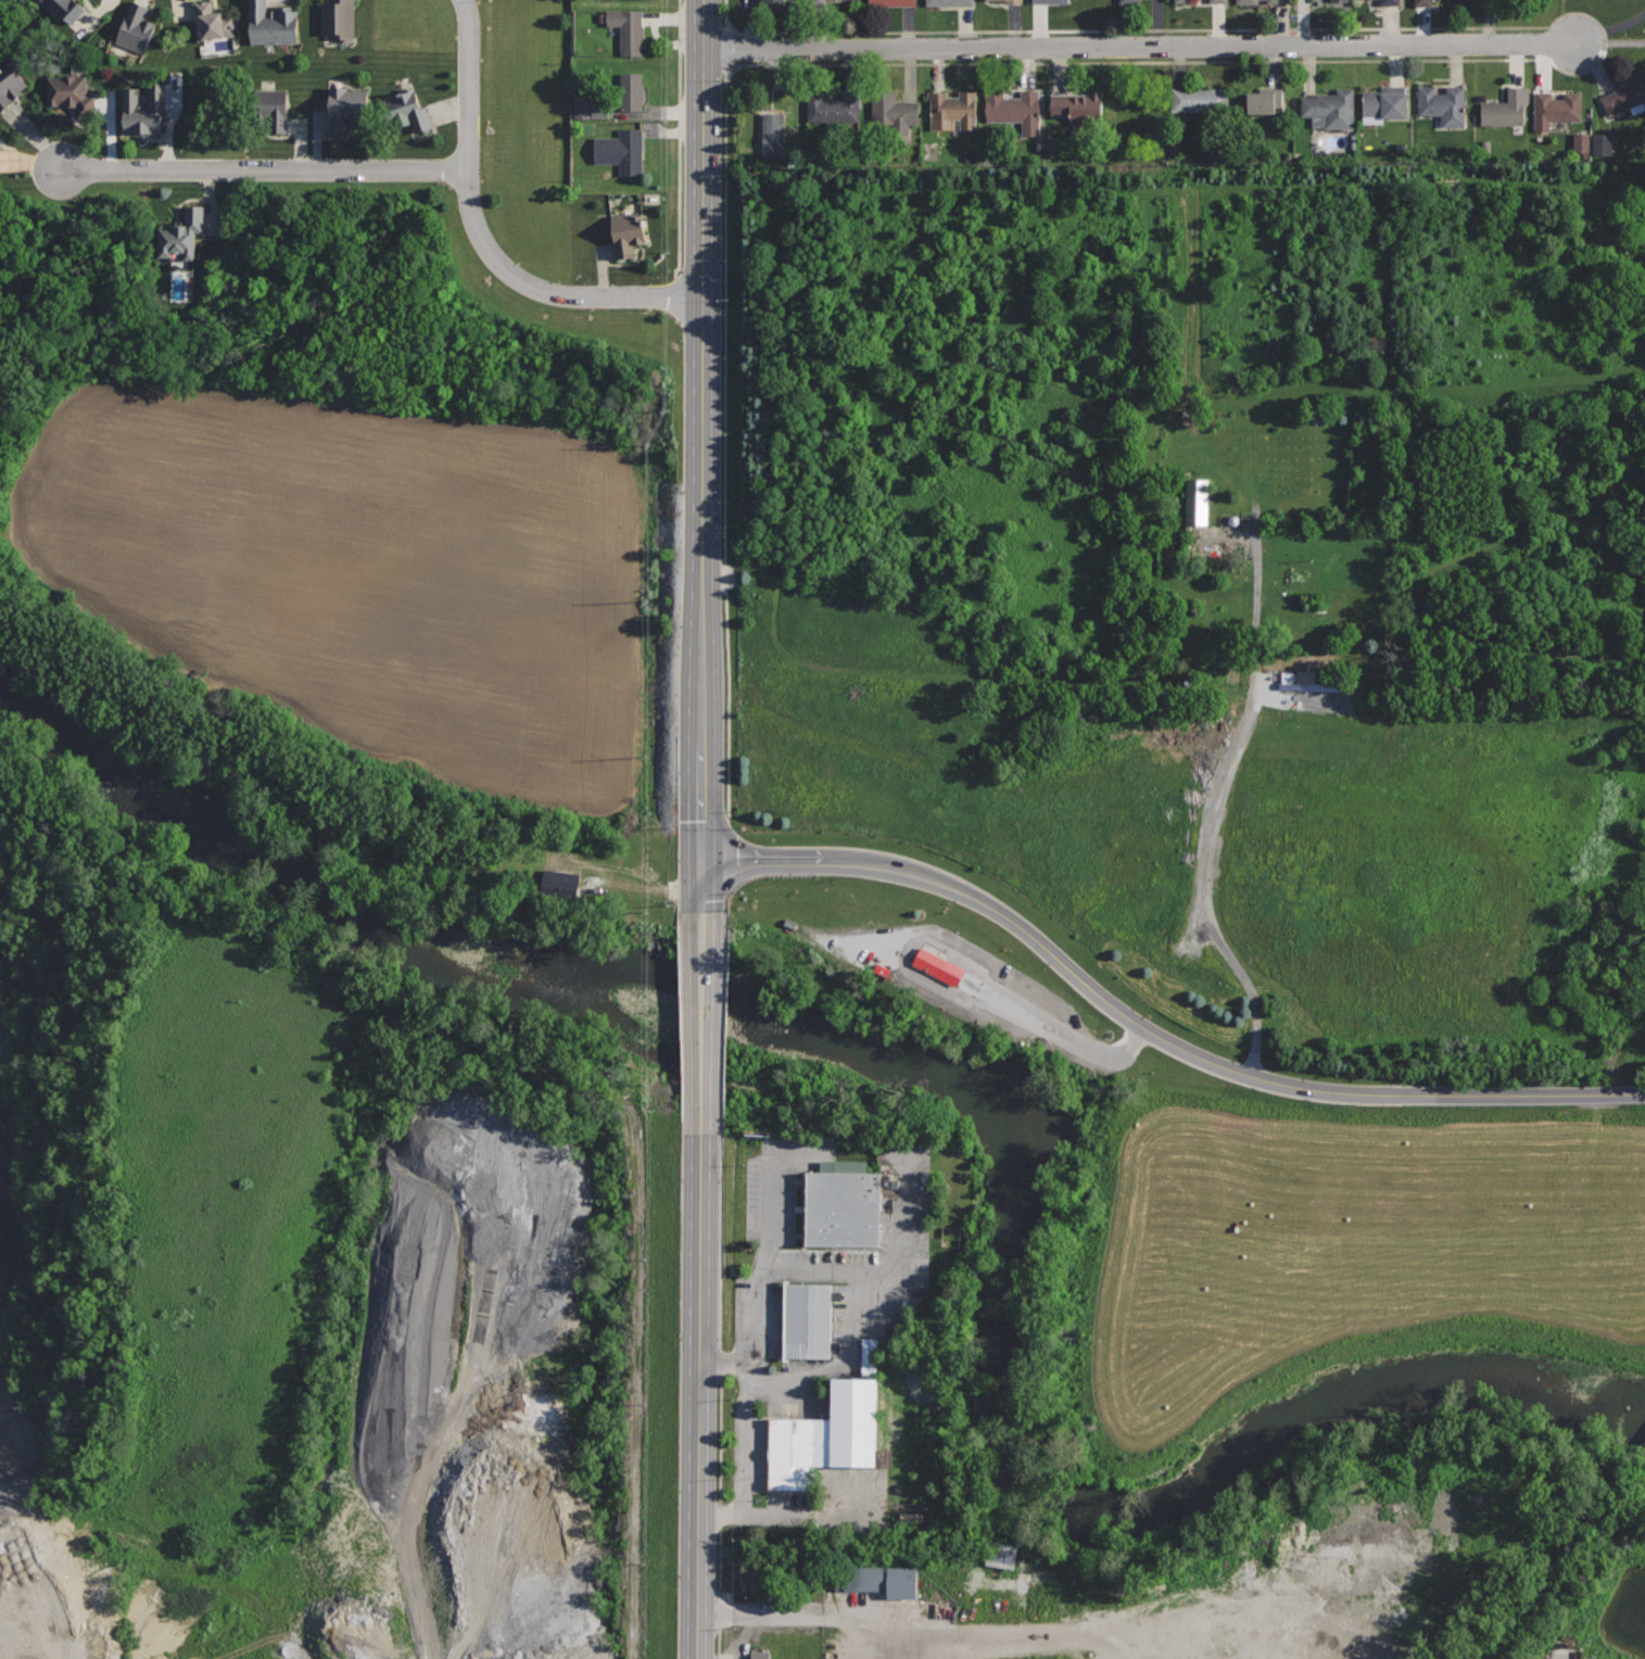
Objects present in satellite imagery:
building: (996, 0)
building: (1010, 1)
building: (1050, 1)
building: (1129, 1)
building: (1182, 1)
building: (1218, 1)
building: (1247, 1)
building: (1276, 1)
building: (1340, 1)
building: (1390, 1)
building: (890, 2)
building: (949, 2)
building: (1423, 2)
building: (769, 3)
building: (818, 4)
building: (63, 8)
building: (339, 18)
building: (213, 21)
building: (273, 24)
building: (136, 28)
building: (629, 28)
road: (1141, 46)
road: (1269, 61)
building: (10, 83)
building: (632, 90)
building: (72, 92)
building: (1627, 94)
building: (1200, 99)
building: (1265, 101)
building: (349, 102)
building: (1383, 103)
building: (832, 104)
building: (1443, 104)
building: (273, 106)
building: (144, 107)
building: (579, 107)
building: (1014, 107)
building: (1329, 107)
building: (1505, 107)
building: (1554, 107)
building: (406, 109)
building: (953, 109)
building: (1080, 109)
building: (894, 111)
building: (773, 134)
road: (679, 136)
building: (1580, 142)
building: (1600, 144)
road: (706, 148)
building: (621, 150)
building: (3, 161)
road: (266, 169)
building: (629, 231)
building: (182, 233)
road: (483, 239)
building: (1198, 502)
road: (704, 603)
road: (1256, 646)
road: (1111, 746)
road: (727, 907)
building: (928, 960)
road: (891, 967)
river: (528, 970)
parking lot: (986, 991)
road: (701, 1021)
road: (726, 1022)
road: (1153, 1033)
building: (840, 1208)
quarry: (325, 1265)
road: (902, 1271)
road: (752, 1301)
building: (808, 1319)
parking lot: (823, 1321)
building: (873, 1357)
road: (828, 1369)
road: (699, 1395)
road: (723, 1395)
road: (374, 1398)
road: (807, 1410)
building: (833, 1434)
river: (1204, 1490)
road: (865, 1518)
building: (916, 1519)
building: (757, 1578)
building: (877, 1579)
road: (918, 1612)
road: (769, 1614)
parking lot: (907, 1625)
road: (1024, 1631)
road: (840, 1636)
road: (39, 1652)
building: (761, 1655)

